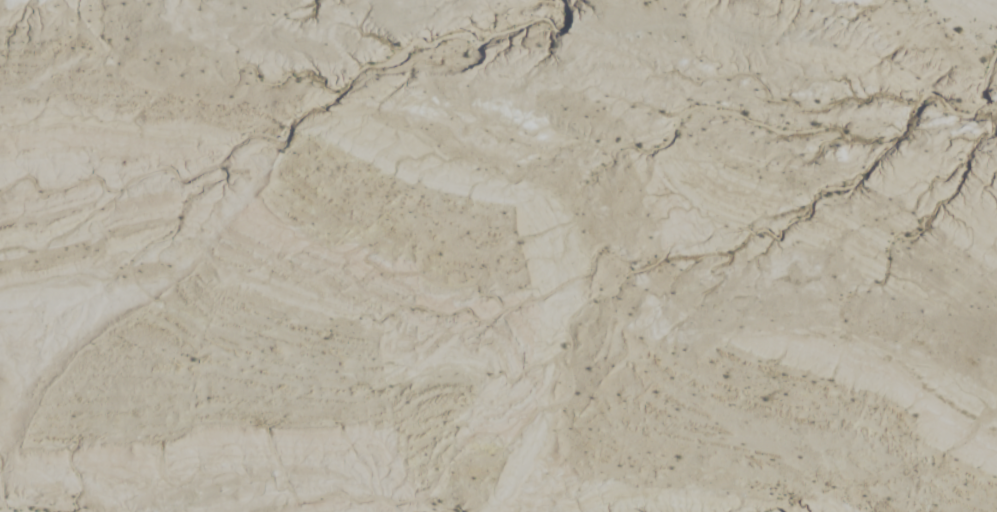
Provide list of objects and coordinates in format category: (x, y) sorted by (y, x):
road: (996, 0)

